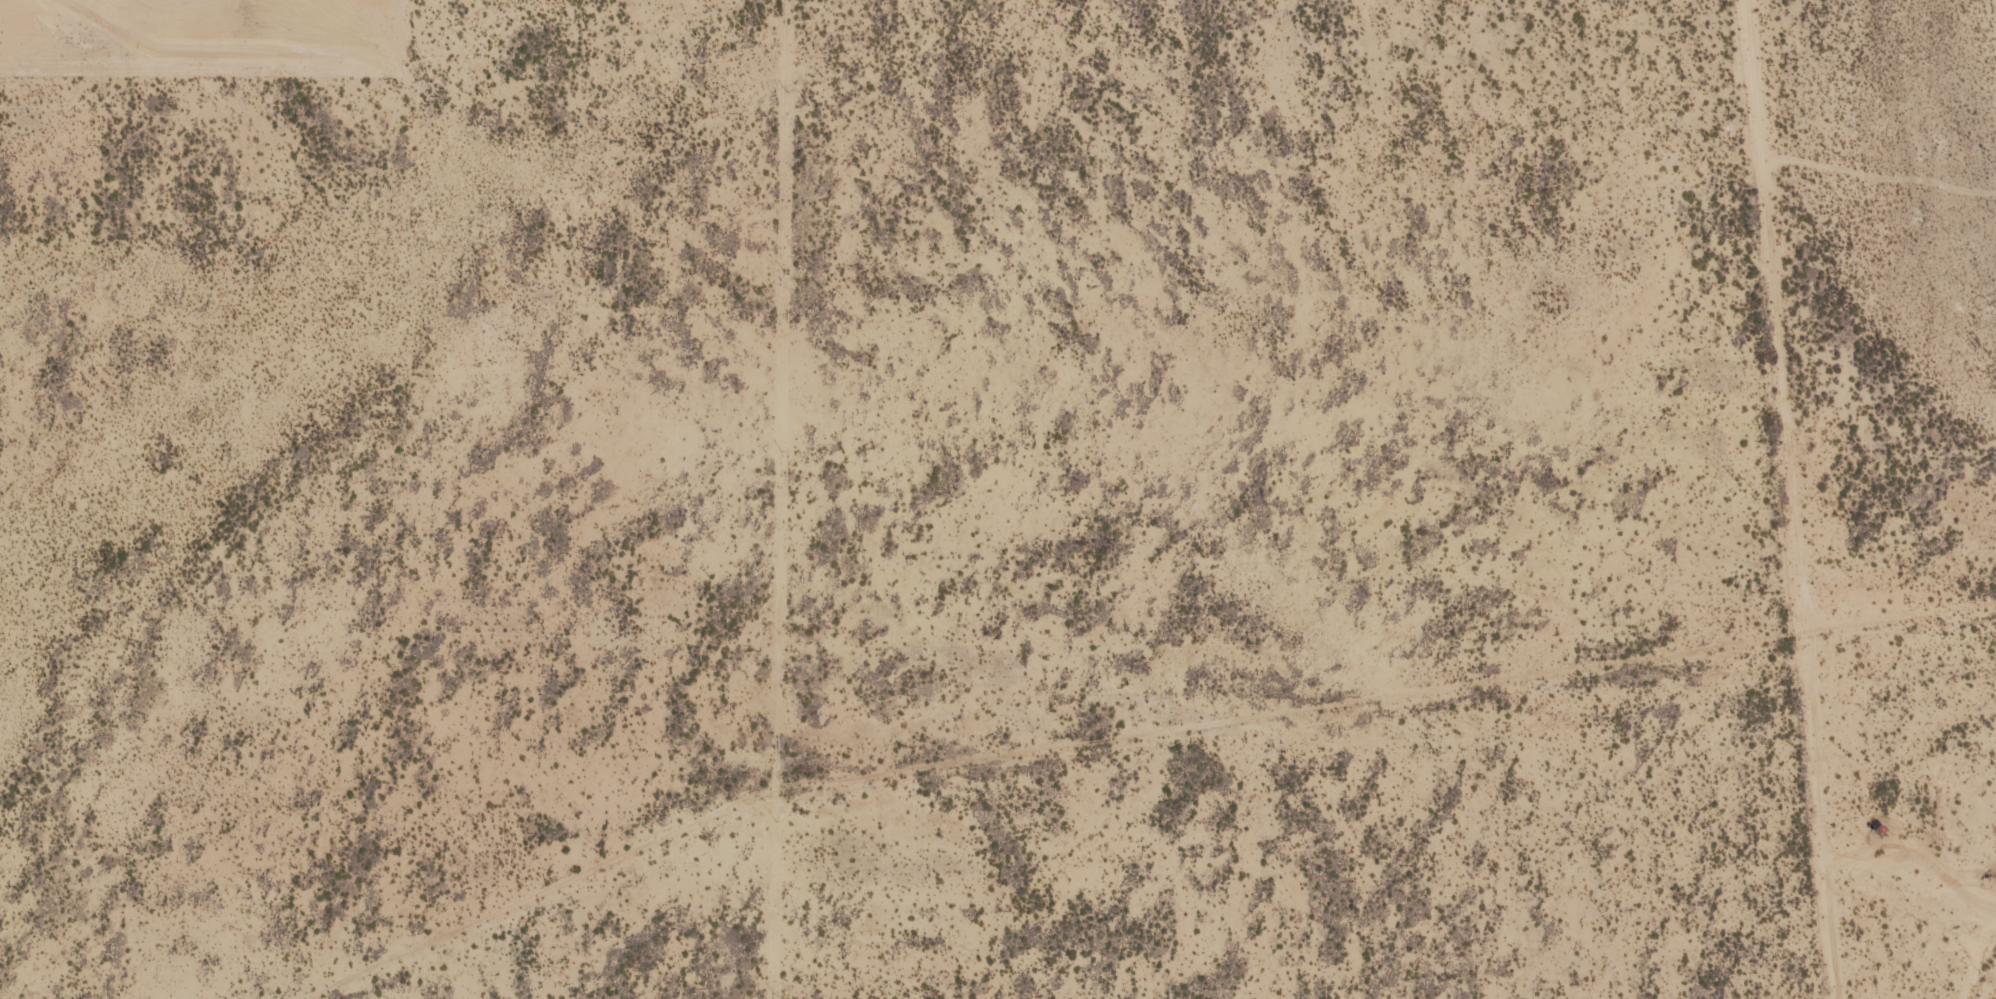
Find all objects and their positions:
road: (1765, 500)
road: (1962, 957)

